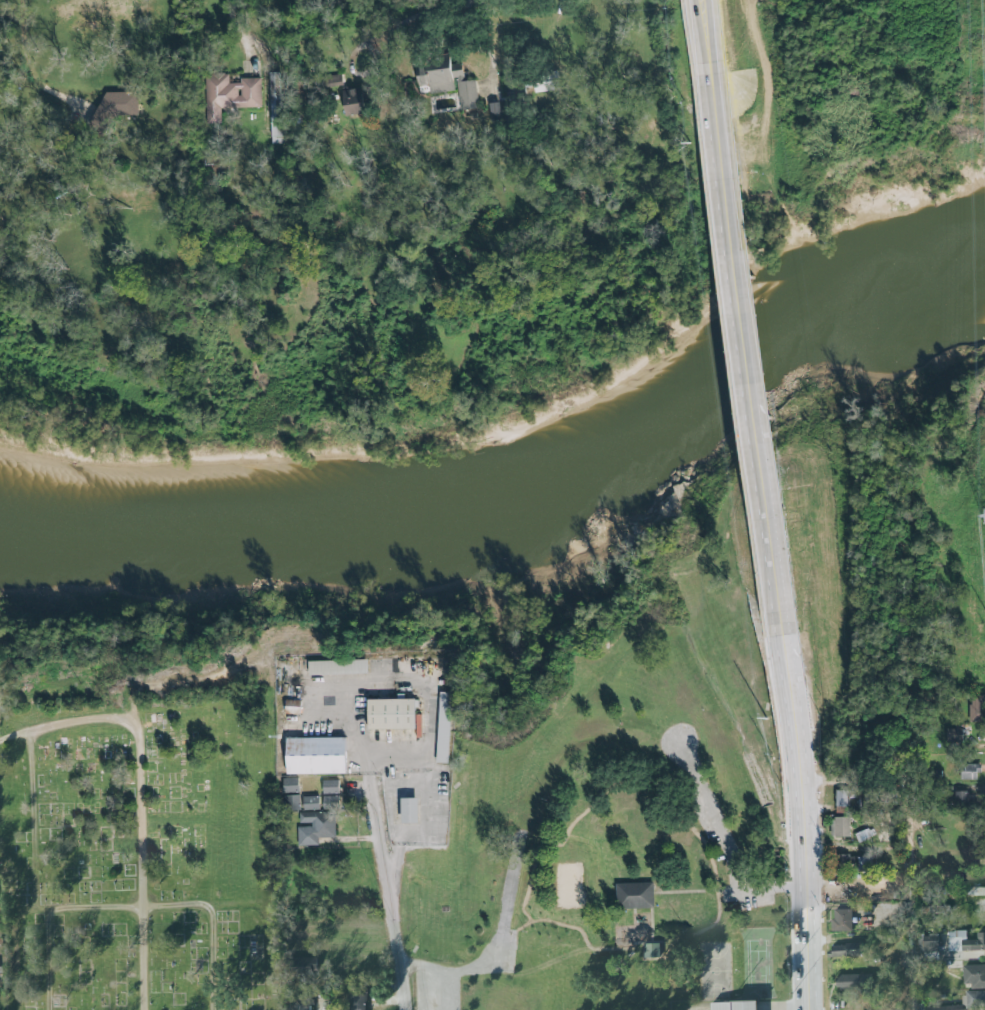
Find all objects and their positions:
road: (412, 19)
road: (233, 24)
road: (710, 33)
road: (30, 67)
building: (549, 83)
building: (454, 85)
building: (230, 96)
building: (360, 102)
building: (124, 106)
building: (499, 114)
road: (747, 325)
road: (982, 446)
river: (515, 492)
road: (402, 688)
building: (973, 708)
building: (387, 713)
building: (953, 736)
building: (317, 755)
building: (970, 772)
building: (291, 785)
building: (331, 787)
road: (801, 796)
road: (141, 799)
building: (839, 799)
building: (962, 800)
building: (291, 802)
building: (312, 803)
building: (331, 803)
building: (405, 810)
road: (33, 822)
building: (316, 827)
building: (839, 827)
building: (864, 834)
road: (726, 844)
park: (142, 857)
building: (848, 860)
road: (384, 870)
building: (973, 891)
road: (910, 893)
building: (633, 896)
road: (46, 912)
road: (51, 915)
building: (840, 920)
road: (214, 925)
building: (928, 942)
building: (964, 942)
building: (849, 949)
road: (446, 964)
building: (975, 976)
building: (849, 981)
road: (403, 986)
building: (356, 1001)
building: (730, 1005)
building: (942, 1007)

